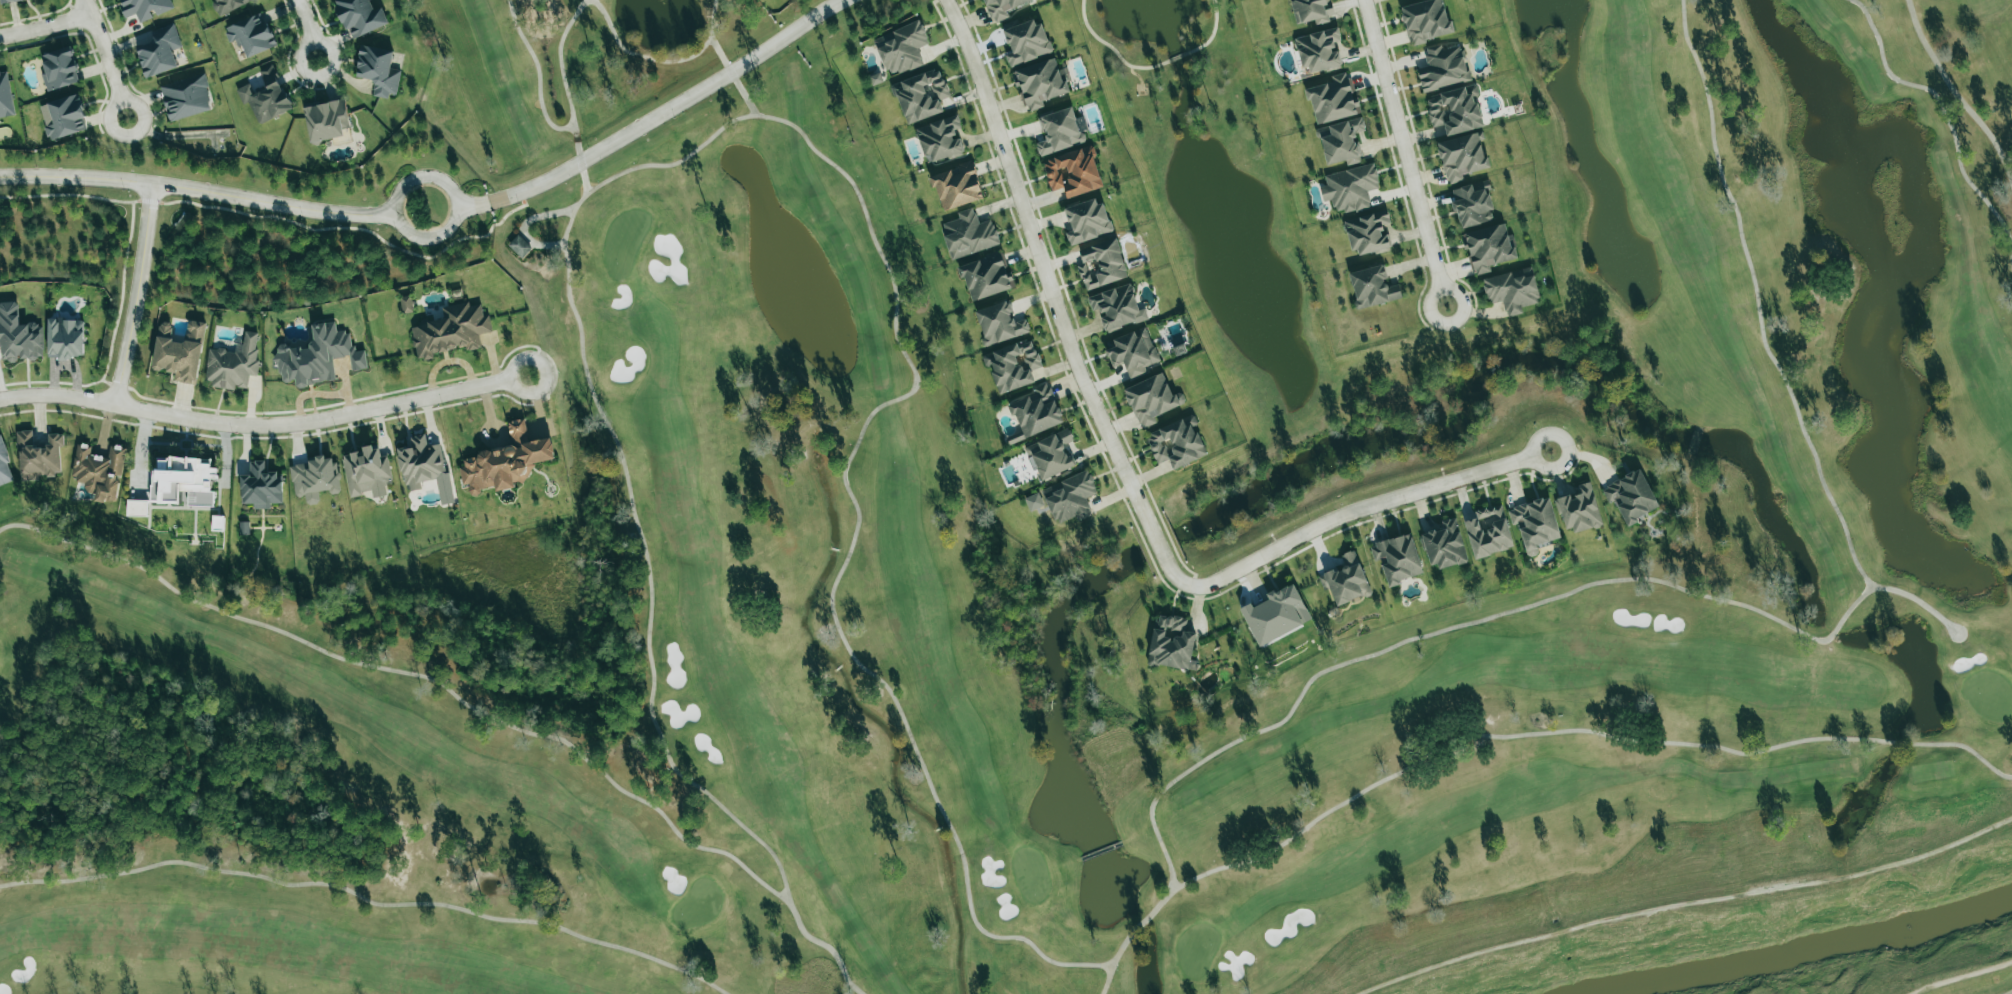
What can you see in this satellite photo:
building: (8, 1)
building: (228, 5)
building: (145, 8)
building: (1001, 8)
building: (1311, 11)
building: (359, 17)
road: (307, 19)
building: (1426, 20)
road: (46, 26)
building: (251, 34)
building: (1025, 42)
building: (901, 48)
road: (105, 49)
building: (159, 51)
building: (1319, 51)
road: (298, 65)
building: (1443, 68)
building: (59, 69)
building: (378, 70)
building: (875, 79)
building: (1039, 83)
building: (5, 95)
building: (921, 95)
building: (266, 96)
building: (186, 98)
building: (1333, 99)
road: (670, 109)
building: (1455, 110)
building: (63, 117)
building: (326, 121)
road: (111, 131)
building: (1059, 131)
building: (940, 139)
building: (1341, 142)
road: (1406, 154)
building: (1462, 156)
building: (1073, 172)
building: (956, 186)
building: (1350, 188)
road: (197, 189)
road: (473, 204)
building: (1472, 204)
road: (455, 211)
building: (1087, 221)
building: (1368, 233)
building: (968, 234)
building: (519, 246)
building: (1488, 248)
building: (1101, 264)
building: (986, 276)
building: (1372, 287)
building: (1512, 290)
road: (137, 294)
building: (406, 304)
building: (1117, 308)
building: (999, 324)
building: (451, 331)
building: (19, 336)
building: (65, 339)
building: (180, 352)
building: (1132, 352)
building: (317, 356)
road: (516, 360)
building: (233, 364)
building: (1012, 365)
building: (1151, 399)
building: (1036, 411)
road: (255, 424)
road: (1543, 437)
building: (1176, 443)
building: (1051, 455)
building: (39, 456)
building: (505, 462)
building: (420, 463)
building: (5, 467)
road: (1124, 469)
building: (99, 471)
building: (367, 472)
building: (314, 479)
building: (183, 481)
building: (261, 486)
building: (1631, 496)
building: (1070, 497)
building: (137, 508)
building: (1579, 509)
building: (1534, 524)
building: (1488, 532)
building: (1444, 545)
building: (1397, 559)
building: (1346, 580)
park: (1058, 588)
park: (1091, 599)
building: (1276, 615)
building: (1171, 644)
river: (1818, 949)
park: (1978, 981)

